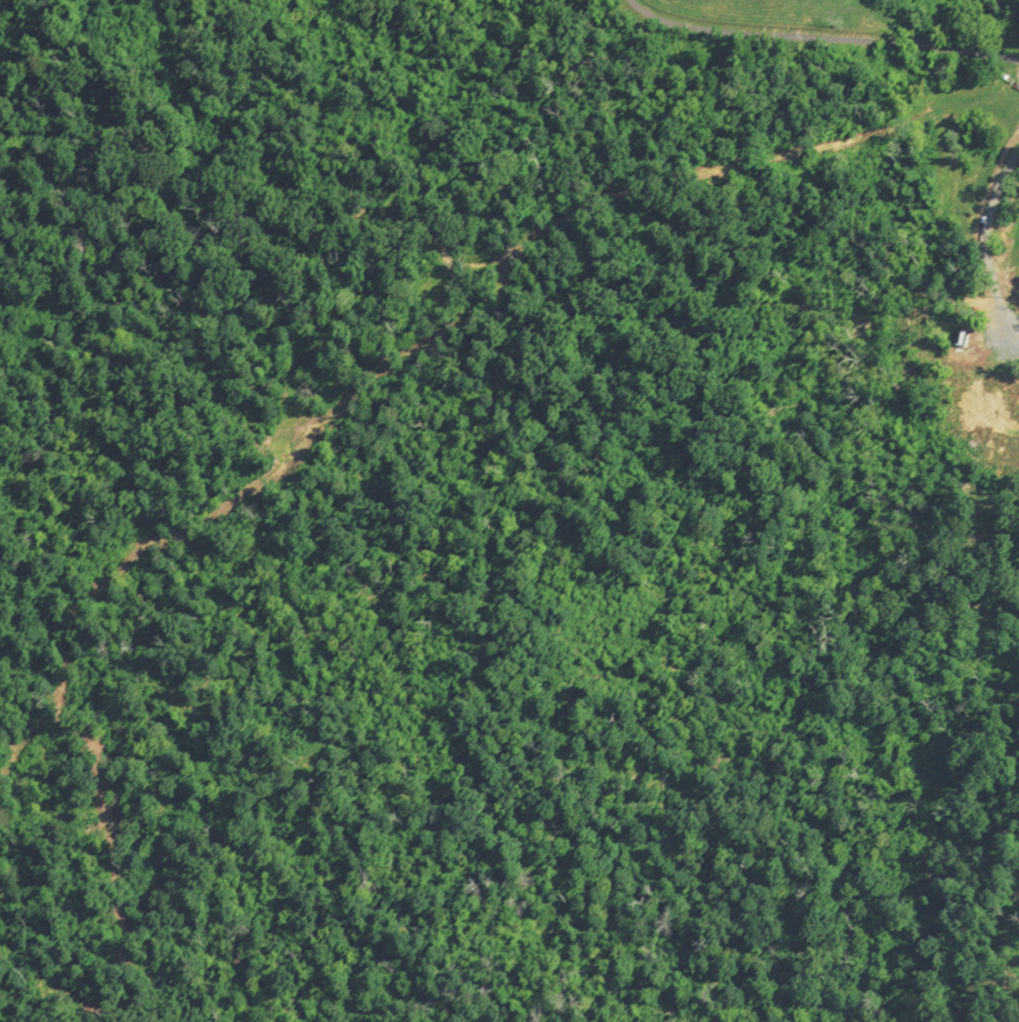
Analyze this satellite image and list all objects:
road: (822, 37)
road: (508, 179)
building: (958, 343)

